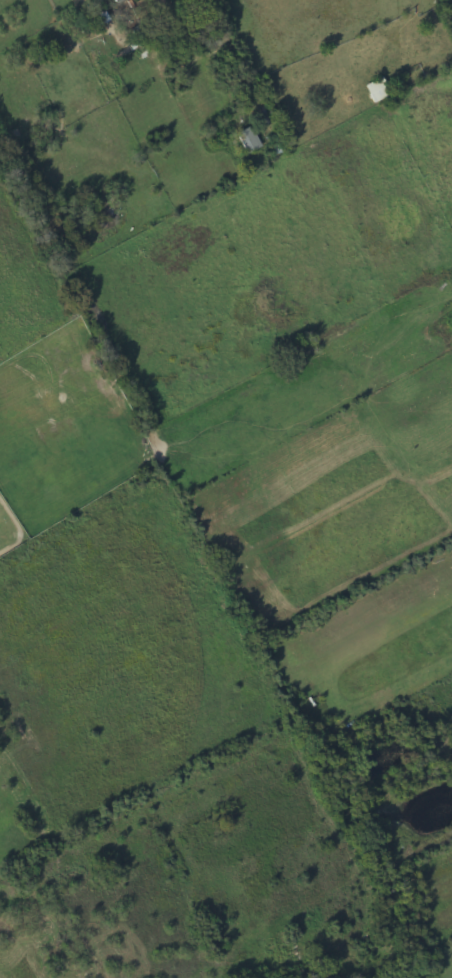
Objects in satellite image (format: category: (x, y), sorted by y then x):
building: (246, 139)

